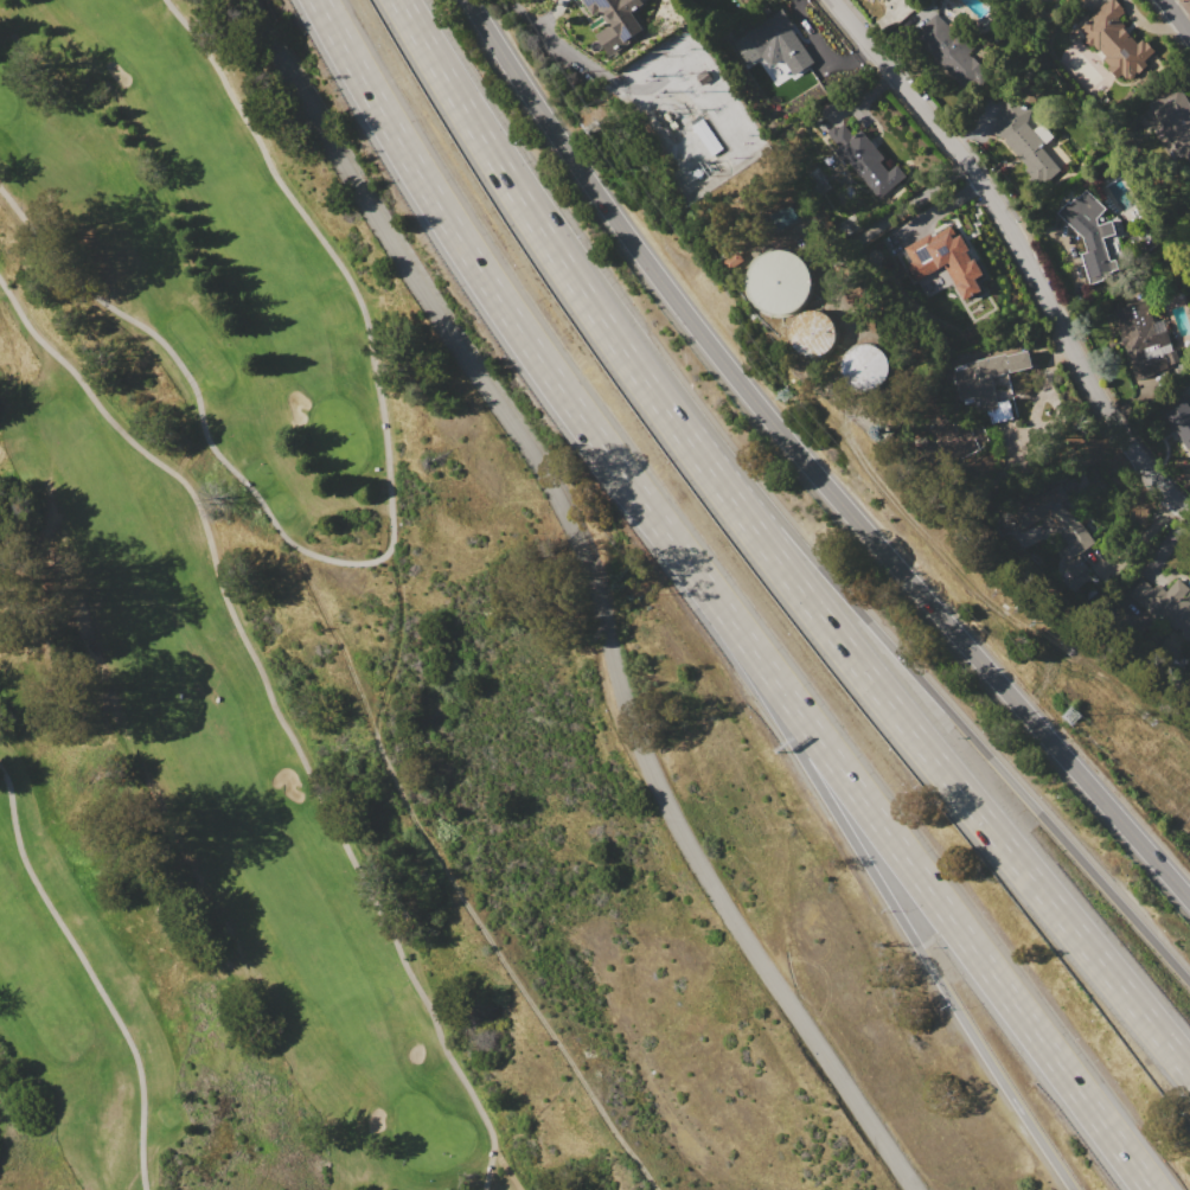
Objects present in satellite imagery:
building: (879, 0)
road: (529, 13)
road: (1178, 14)
building: (616, 23)
building: (1115, 41)
building: (779, 43)
road: (821, 50)
building: (951, 50)
park: (6, 95)
building: (1175, 119)
power tower: (595, 124)
building: (709, 136)
building: (1025, 140)
building: (865, 159)
road: (507, 178)
building: (786, 216)
building: (1090, 232)
road: (1024, 251)
building: (736, 260)
building: (946, 275)
building: (780, 280)
water tower: (786, 283)
road: (503, 305)
building: (814, 332)
water tower: (819, 335)
building: (1144, 339)
building: (868, 365)
water tower: (870, 372)
building: (987, 382)
power tower: (785, 394)
building: (1179, 416)
park: (340, 433)
building: (953, 439)
road: (808, 465)
building: (1058, 517)
road: (391, 532)
building: (1076, 574)
road: (600, 589)
building: (1170, 596)
park: (197, 644)
road: (909, 660)
road: (279, 714)
power tower: (1070, 715)
road: (900, 716)
road: (930, 891)
road: (887, 895)
road: (91, 973)
park: (428, 1135)

